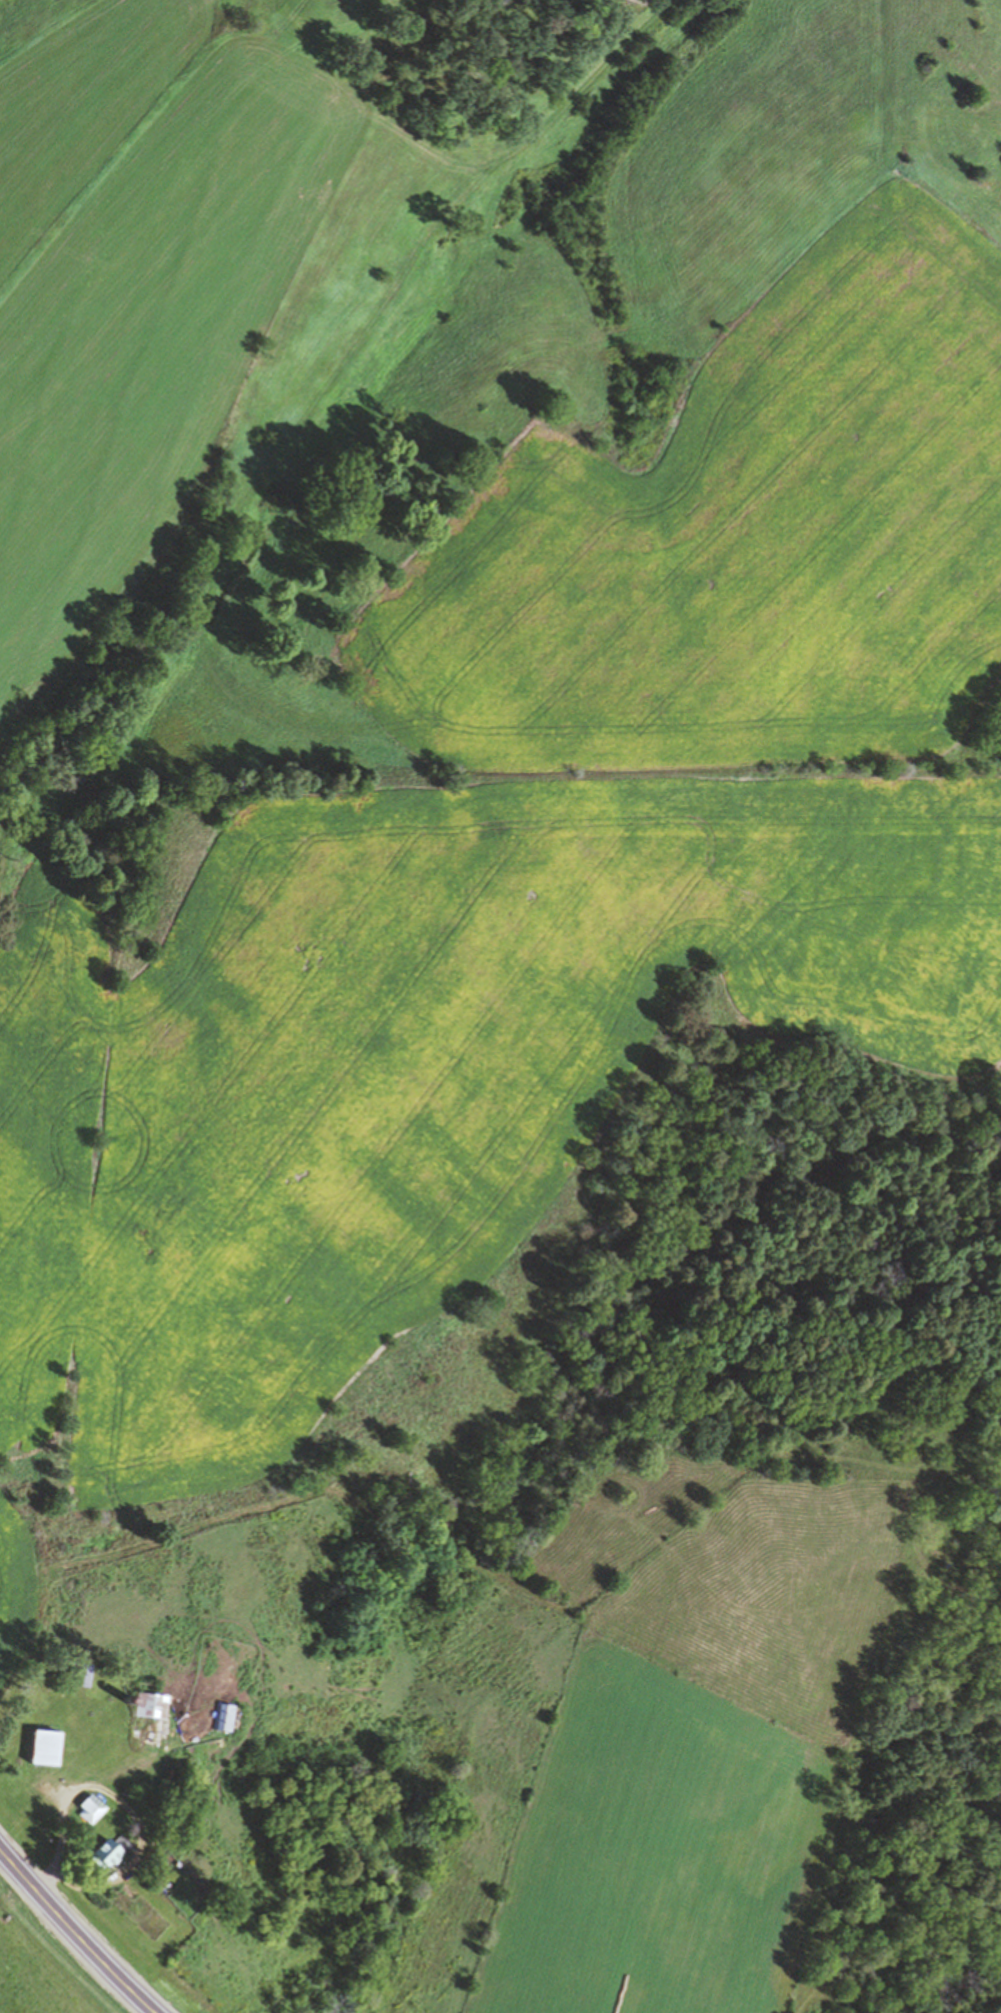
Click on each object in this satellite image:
building: (78, 1672)
building: (149, 1704)
building: (221, 1716)
building: (45, 1746)
building: (126, 1791)
road: (121, 1801)
building: (91, 1808)
building: (108, 1851)
road: (74, 1932)

